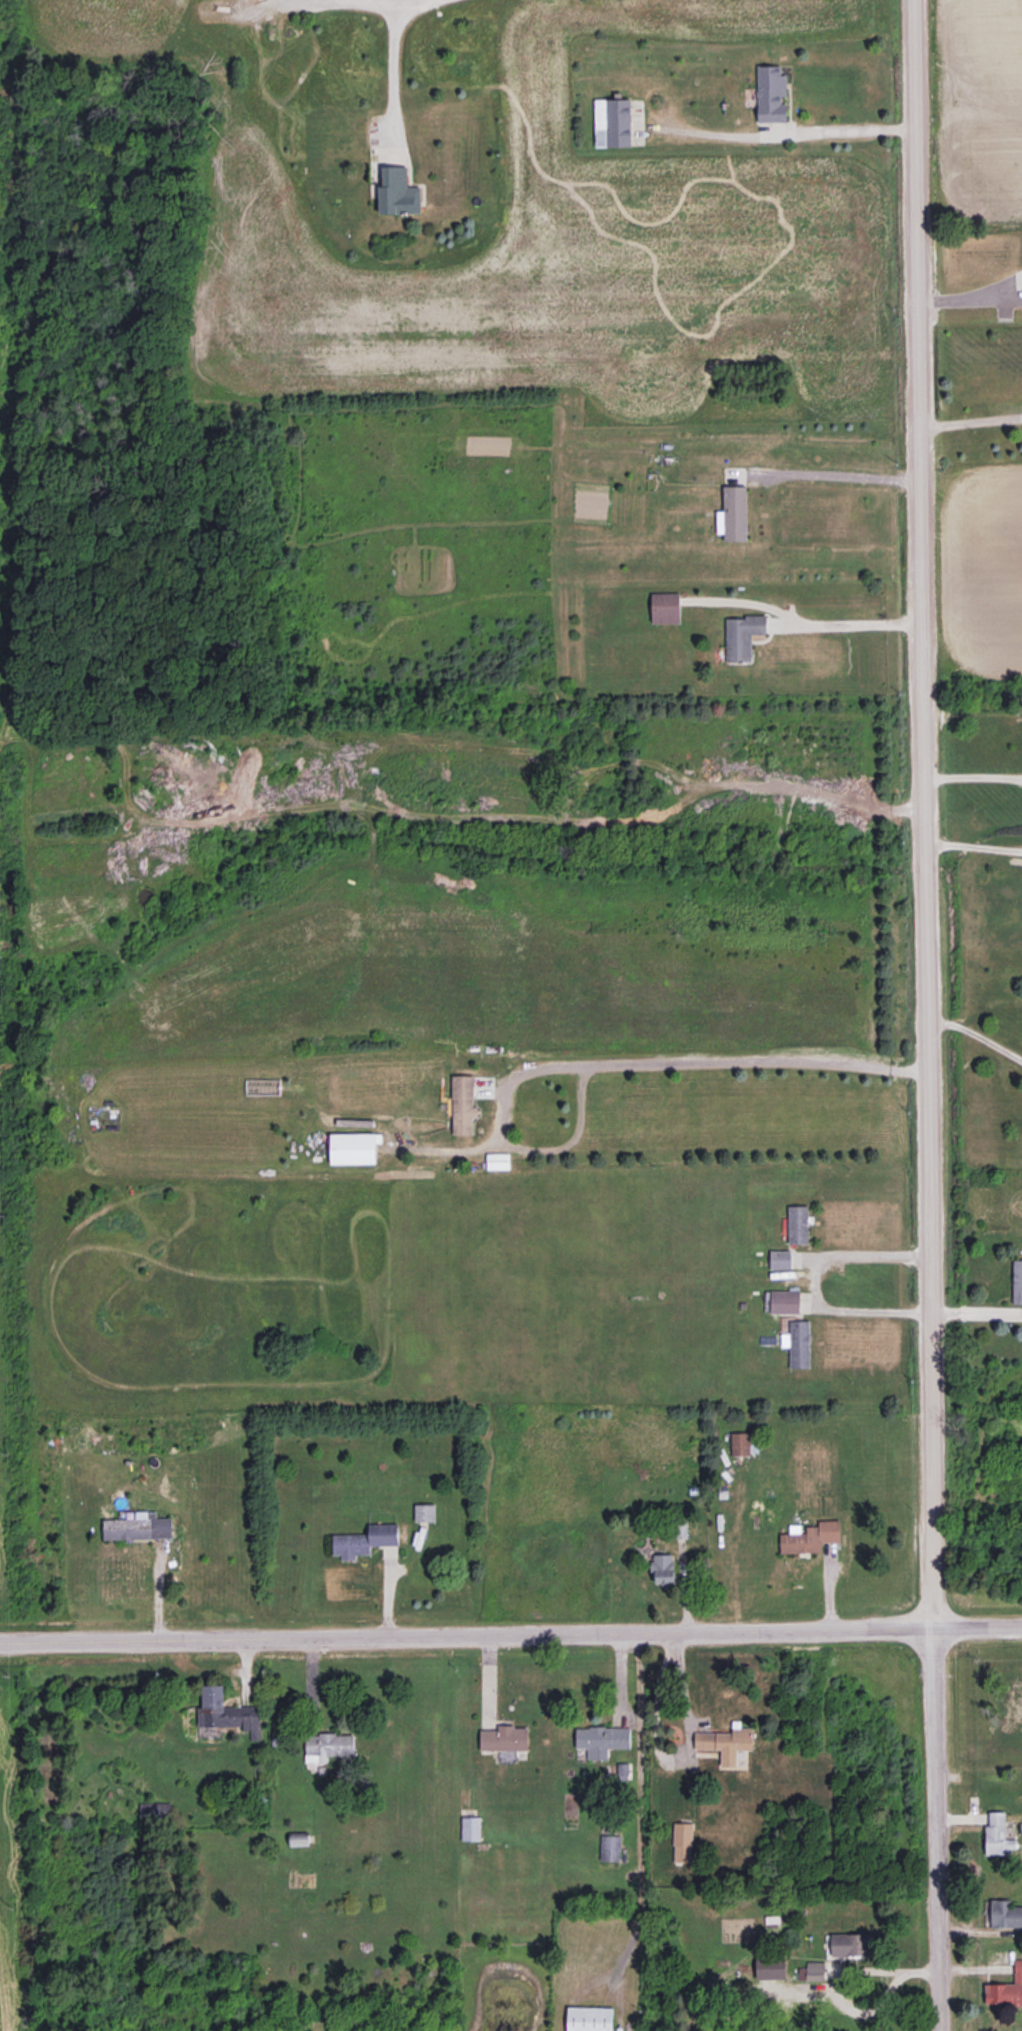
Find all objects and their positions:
road: (392, 63)
building: (771, 94)
building: (612, 122)
road: (785, 130)
building: (398, 192)
road: (969, 297)
road: (971, 422)
road: (828, 472)
building: (733, 514)
building: (665, 607)
road: (852, 623)
building: (742, 636)
road: (973, 775)
road: (974, 845)
road: (928, 1015)
road: (977, 1035)
road: (726, 1061)
building: (463, 1104)
building: (352, 1148)
building: (497, 1160)
building: (798, 1224)
building: (780, 1259)
building: (1017, 1280)
road: (814, 1281)
building: (785, 1301)
building: (798, 1343)
building: (742, 1443)
building: (138, 1527)
building: (682, 1530)
building: (810, 1536)
building: (364, 1540)
building: (663, 1569)
road: (511, 1634)
building: (226, 1712)
building: (504, 1738)
building: (602, 1740)
building: (726, 1743)
building: (327, 1745)
building: (154, 1808)
building: (997, 1835)
building: (682, 1842)
building: (610, 1847)
building: (1005, 1914)
building: (851, 1944)
building: (770, 1968)
building: (812, 1971)
road: (839, 1980)
building: (1006, 1988)
building: (589, 2018)

